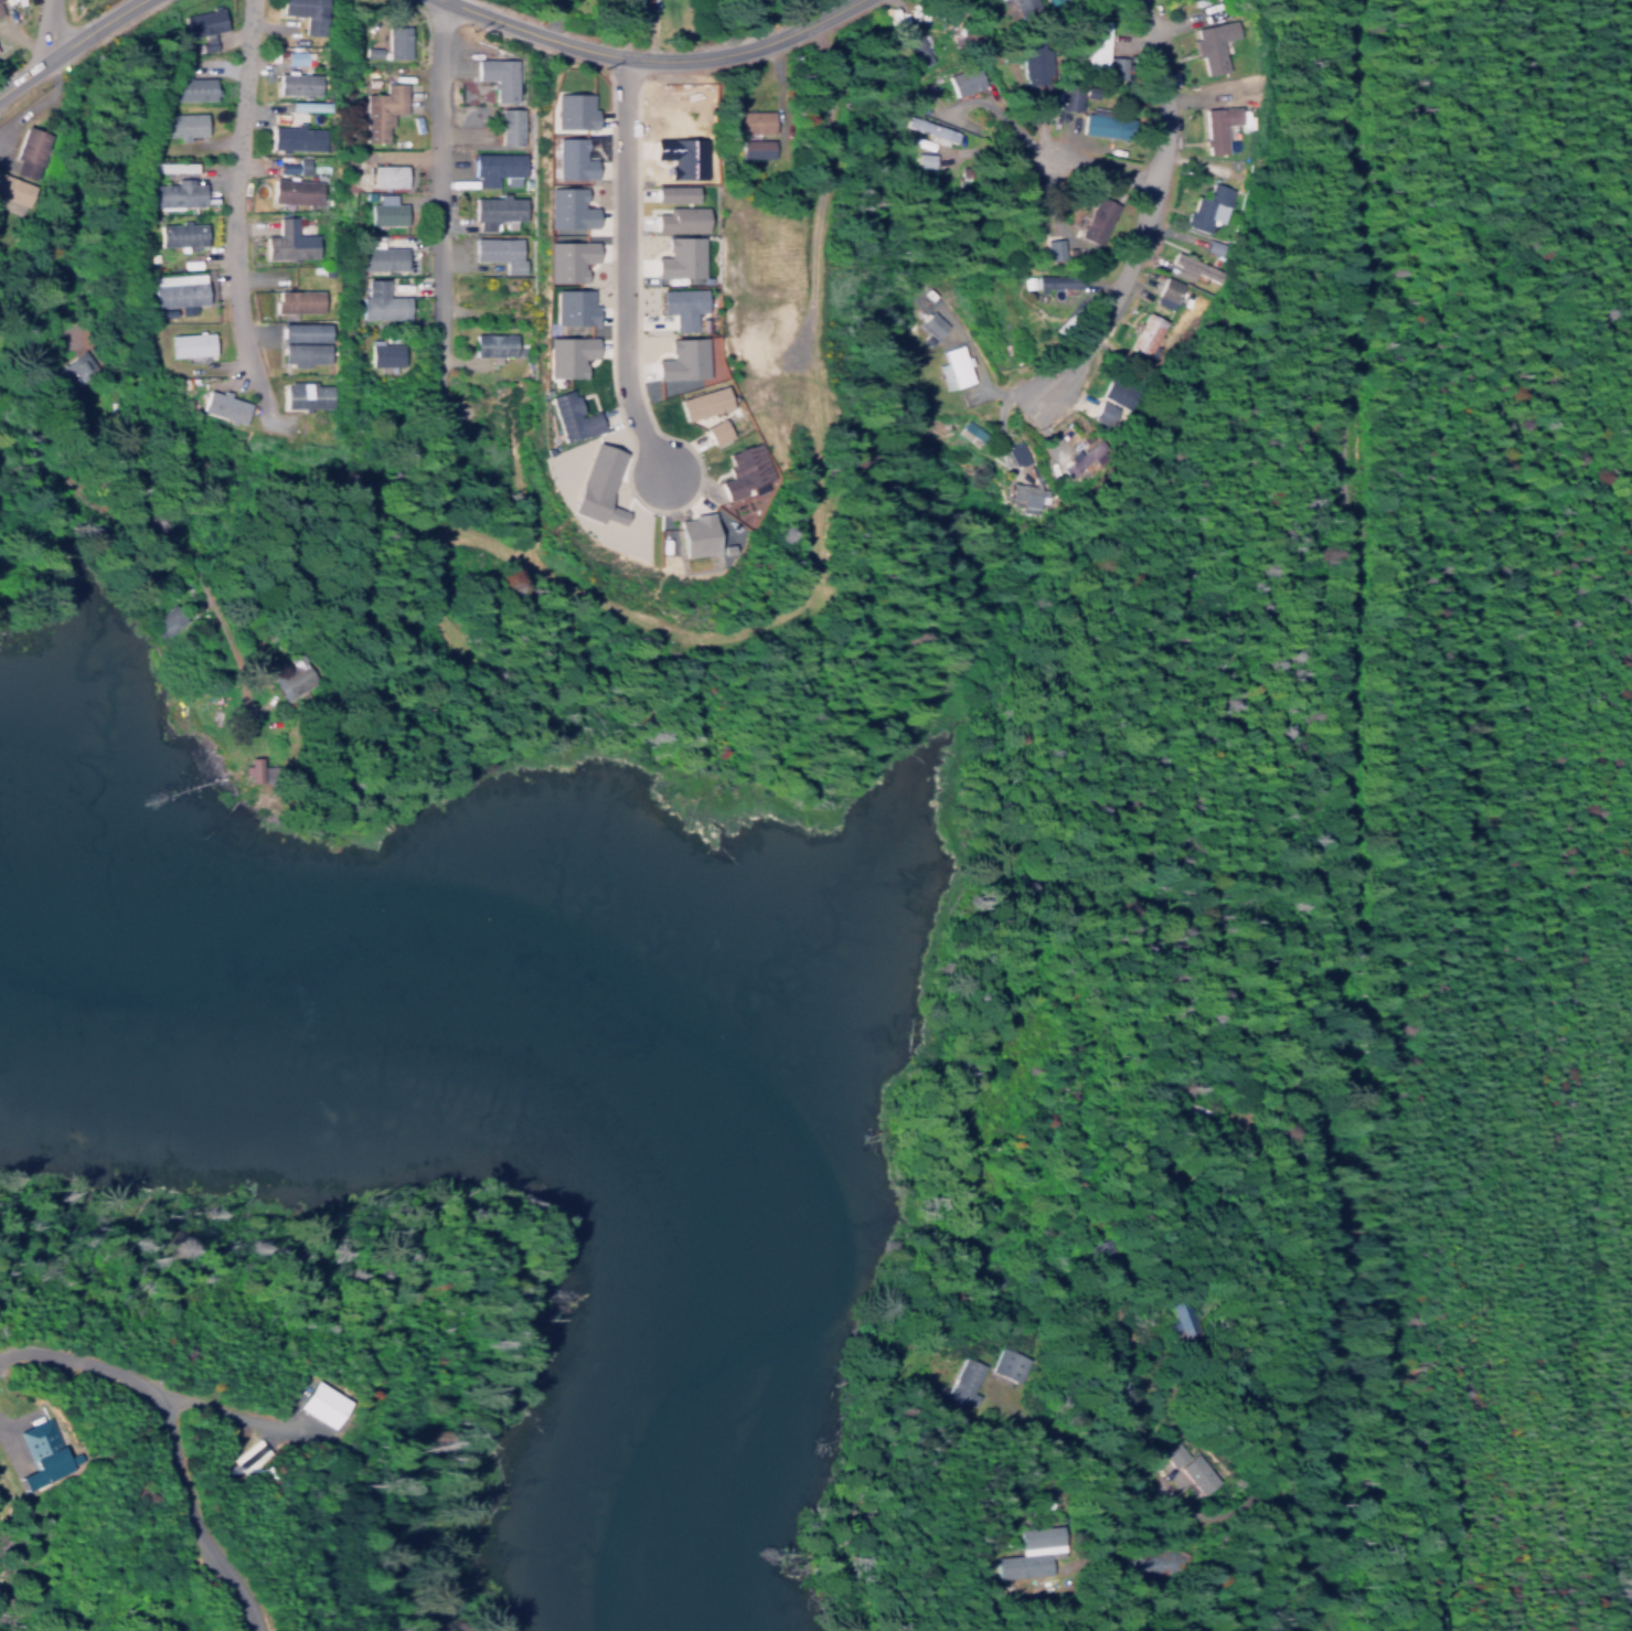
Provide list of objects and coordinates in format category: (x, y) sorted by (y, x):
building: (0, 8)
building: (310, 13)
building: (203, 19)
road: (52, 25)
building: (396, 36)
road: (66, 44)
building: (1091, 44)
building: (1208, 44)
building: (908, 47)
road: (654, 55)
building: (296, 57)
building: (1028, 61)
building: (499, 73)
building: (297, 78)
building: (962, 79)
building: (191, 83)
building: (1064, 96)
building: (297, 106)
building: (382, 106)
building: (567, 110)
building: (750, 117)
building: (180, 120)
building: (512, 121)
building: (1090, 122)
building: (1213, 126)
building: (929, 130)
building: (297, 132)
building: (31, 147)
building: (750, 148)
building: (567, 159)
building: (921, 160)
building: (497, 161)
building: (175, 162)
building: (299, 164)
building: (388, 171)
road: (1102, 172)
road: (429, 184)
building: (295, 185)
building: (14, 189)
building: (177, 190)
building: (668, 193)
road: (225, 202)
building: (498, 205)
building: (386, 206)
building: (562, 207)
building: (1205, 207)
road: (1146, 212)
building: (676, 220)
building: (1090, 223)
building: (183, 230)
building: (287, 236)
building: (501, 247)
building: (1049, 247)
building: (383, 253)
building: (562, 259)
road: (619, 267)
building: (1184, 267)
building: (1046, 283)
building: (180, 286)
building: (1166, 288)
building: (298, 296)
building: (381, 298)
building: (567, 306)
building: (675, 306)
building: (929, 323)
building: (299, 331)
building: (1144, 334)
building: (495, 340)
building: (192, 341)
building: (305, 349)
building: (384, 349)
building: (563, 355)
building: (78, 366)
building: (306, 390)
building: (1109, 391)
building: (225, 402)
building: (697, 403)
building: (573, 412)
building: (713, 433)
road: (0, 446)
building: (1076, 462)
building: (746, 466)
building: (593, 484)
building: (1026, 495)
building: (691, 535)
building: (169, 620)
road: (1350, 898)
building: (1005, 1364)
building: (962, 1381)
building: (308, 1400)
building: (33, 1451)
building: (1191, 1469)
building: (1031, 1553)

